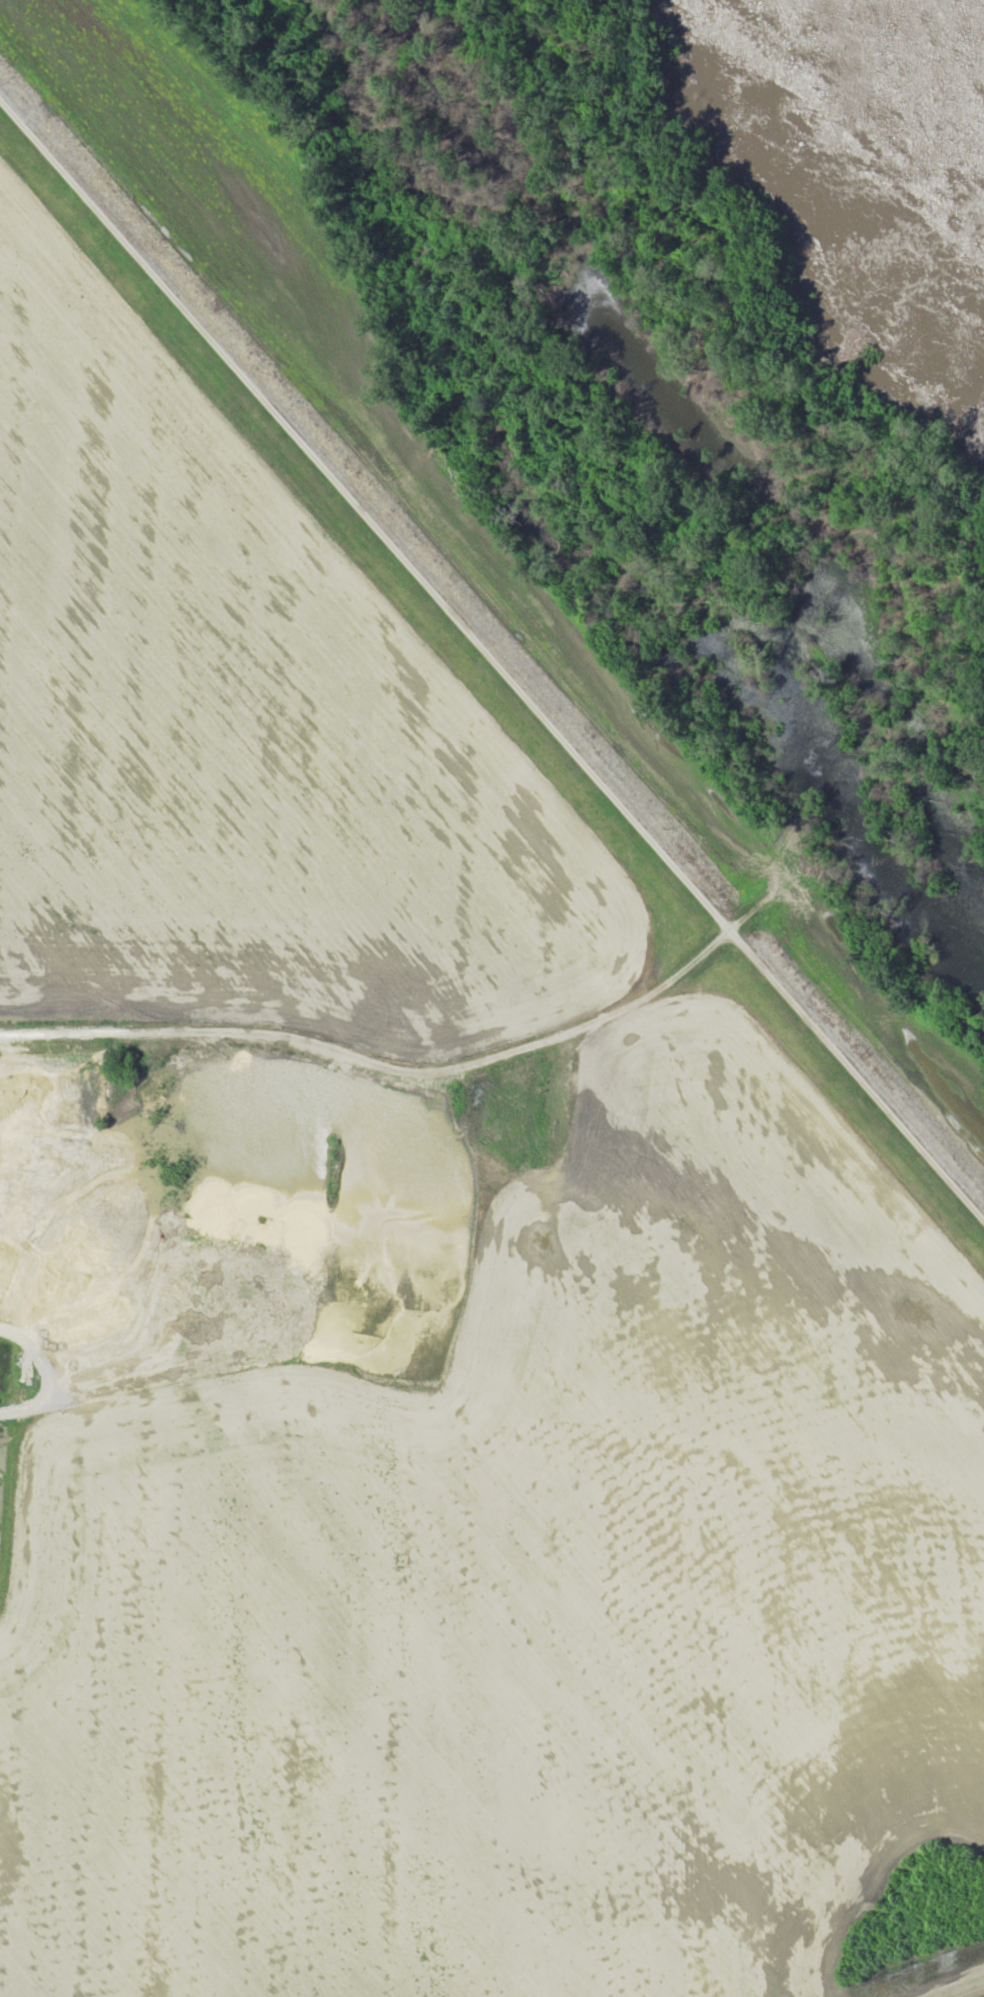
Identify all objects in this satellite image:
crop: (327, 332)
road: (489, 671)
crop: (242, 727)
crop: (894, 1025)
road: (384, 1060)
wastewater plant: (2, 1457)
crop: (452, 1630)

